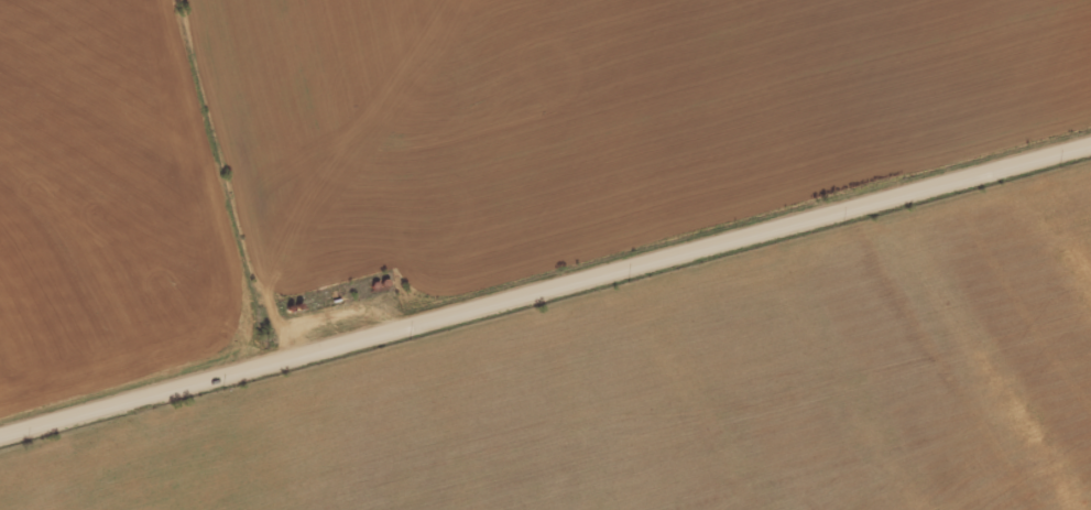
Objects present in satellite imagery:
road: (545, 310)

